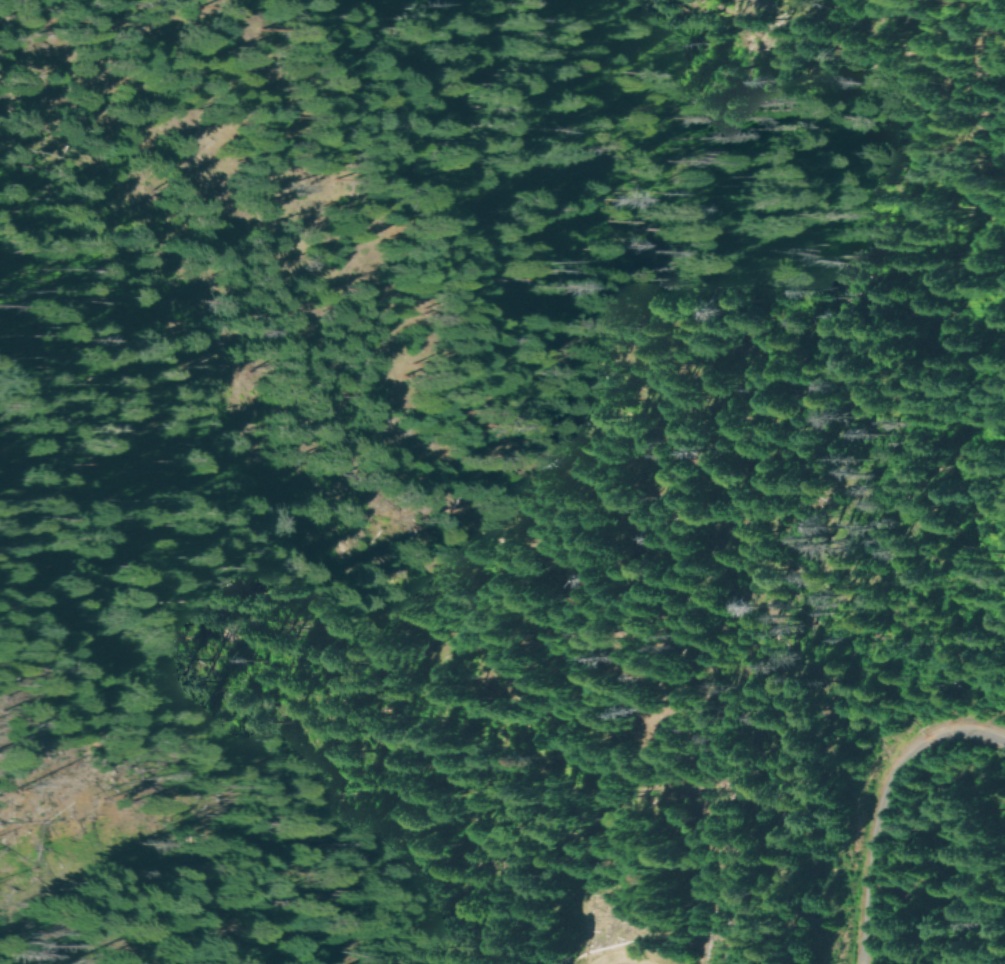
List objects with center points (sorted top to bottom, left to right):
road: (870, 792)

